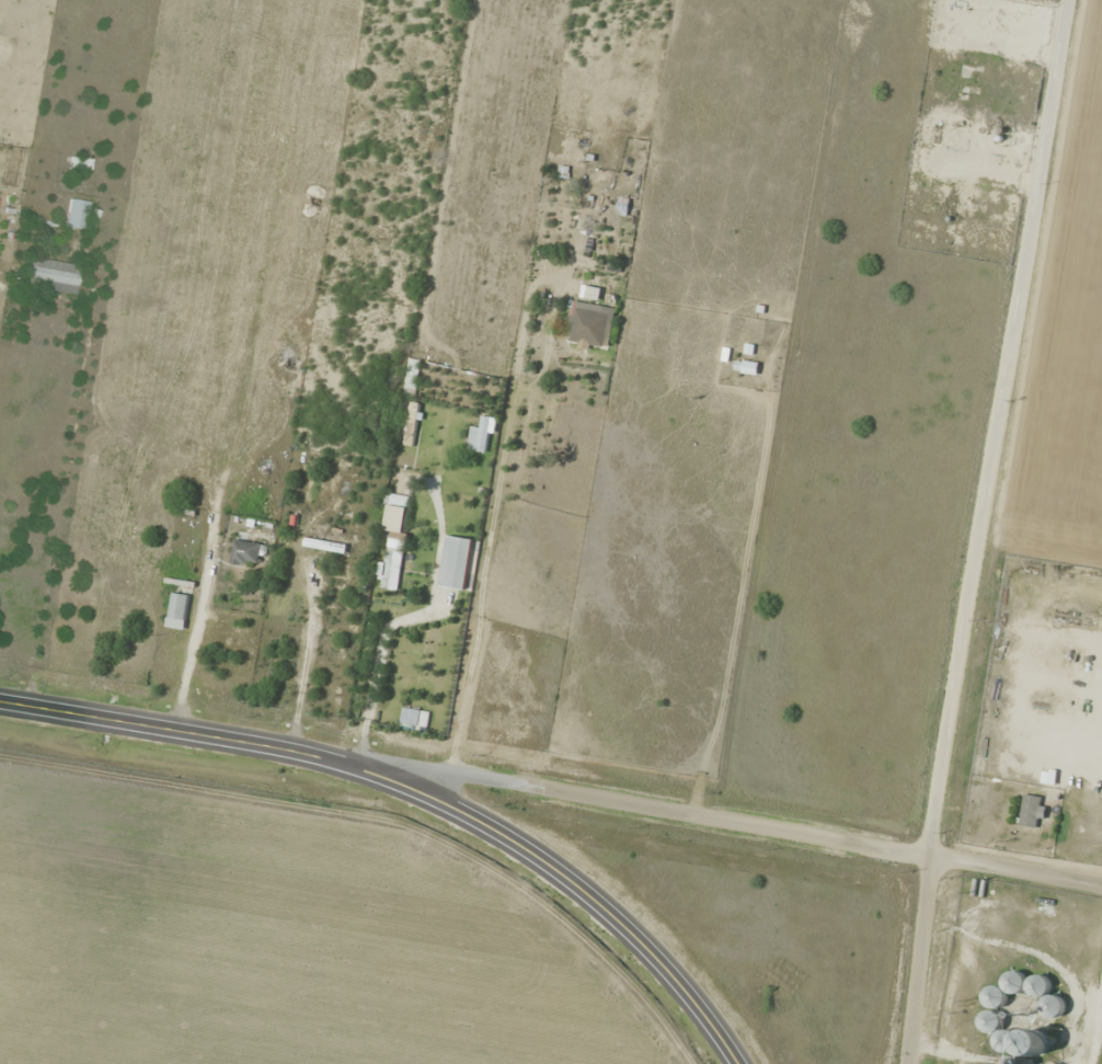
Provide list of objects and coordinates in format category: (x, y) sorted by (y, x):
building: (81, 163)
building: (79, 215)
building: (55, 276)
building: (589, 328)
building: (412, 423)
road: (995, 427)
building: (394, 515)
building: (324, 546)
building: (245, 553)
building: (392, 562)
building: (456, 563)
building: (177, 611)
road: (415, 791)
road: (736, 821)
building: (1056, 902)
road: (916, 960)
building: (1026, 985)
building: (1052, 1002)
building: (1024, 1020)
building: (990, 1022)

